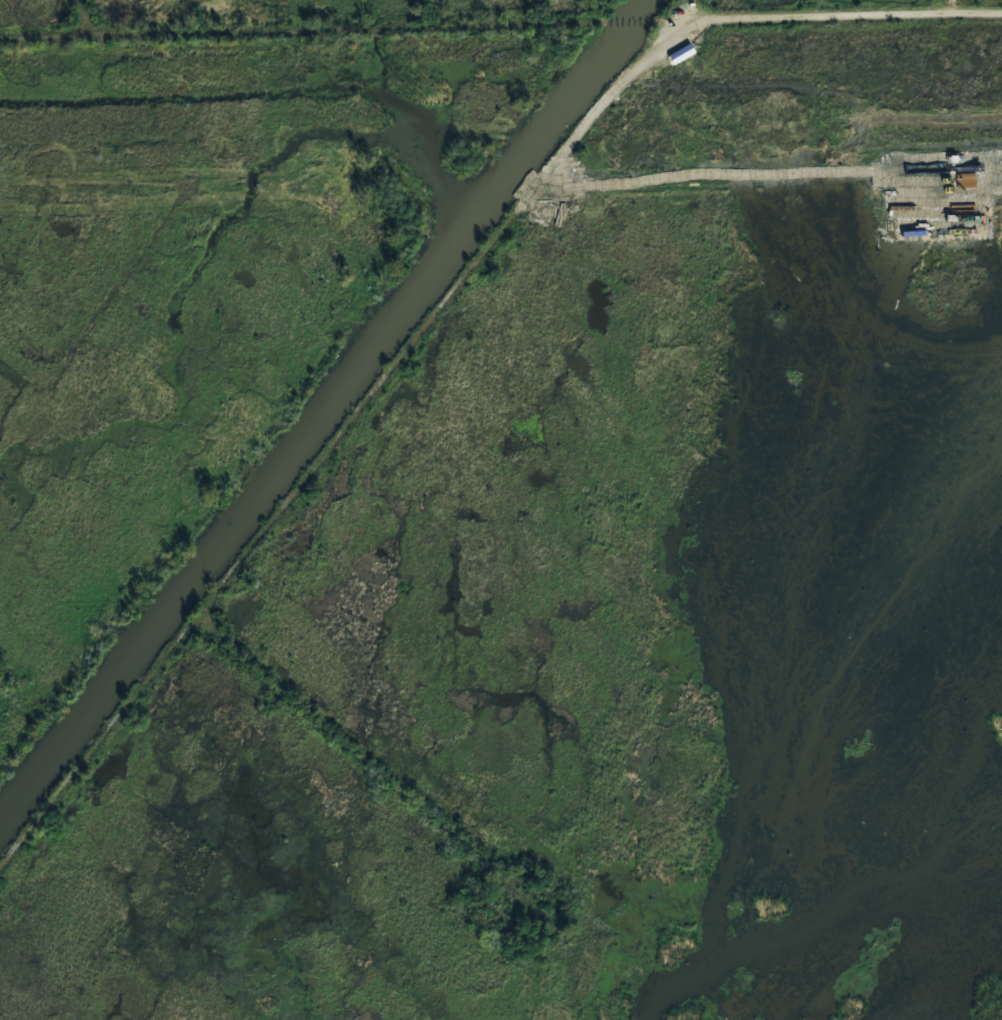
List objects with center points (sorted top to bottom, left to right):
road: (947, 6)
road: (844, 17)
road: (338, 443)
road: (377, 770)

